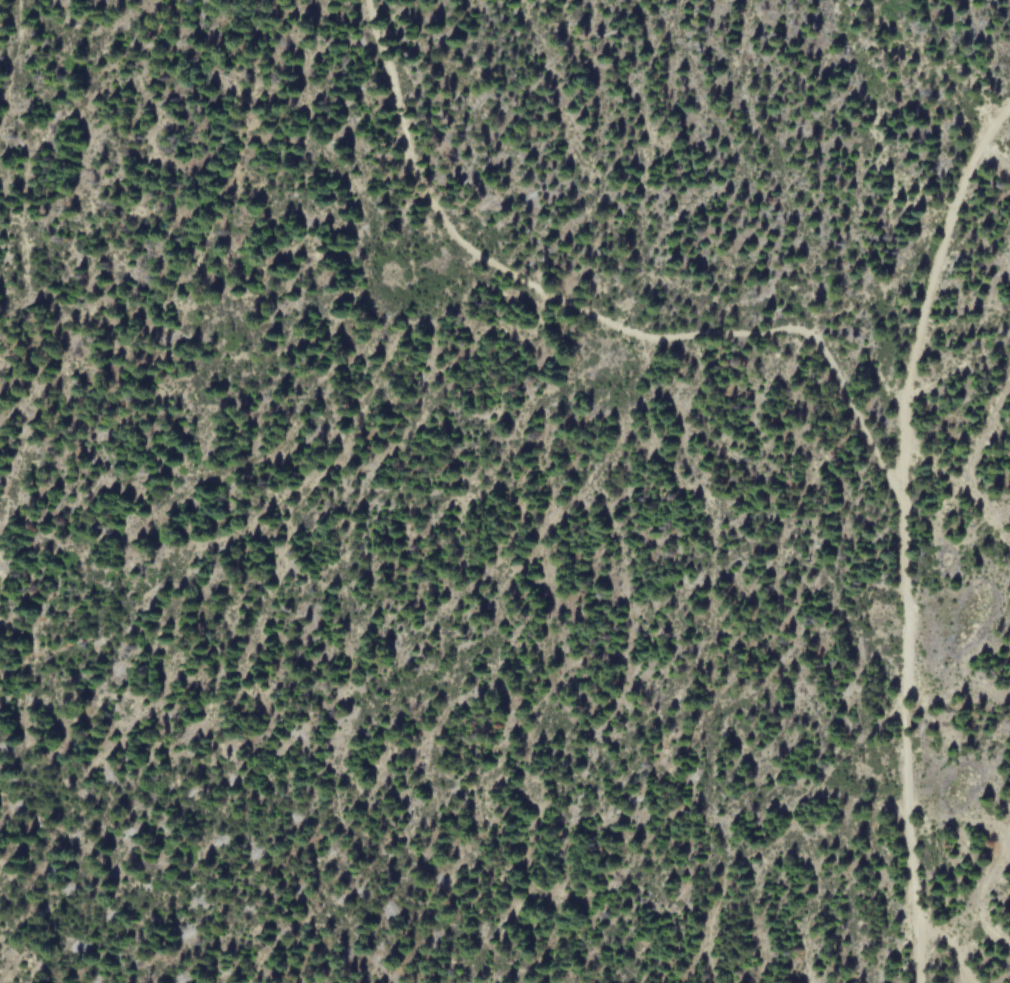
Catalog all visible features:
road: (590, 317)
road: (902, 529)

